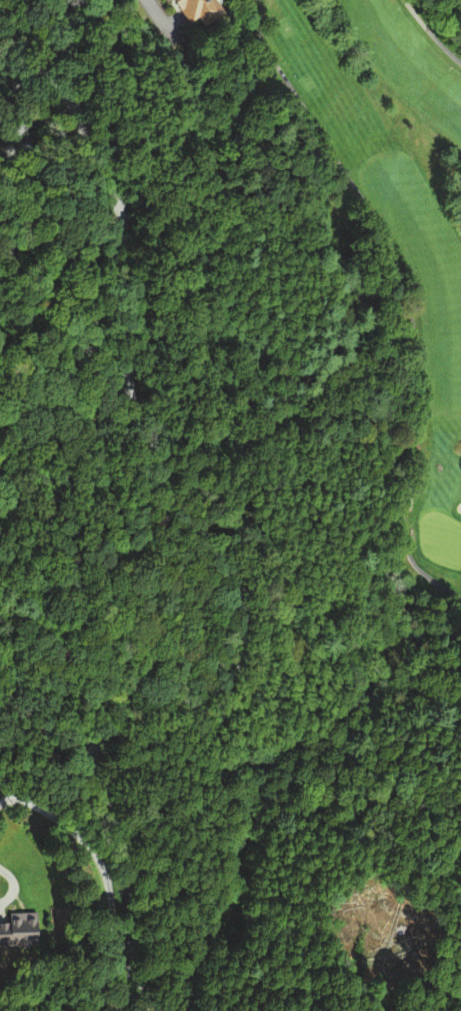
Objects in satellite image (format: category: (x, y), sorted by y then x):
road: (222, 4)
building: (195, 10)
road: (161, 21)
road: (431, 33)
park: (395, 228)
road: (401, 295)
road: (213, 546)
road: (100, 862)
road: (11, 885)
building: (16, 933)

